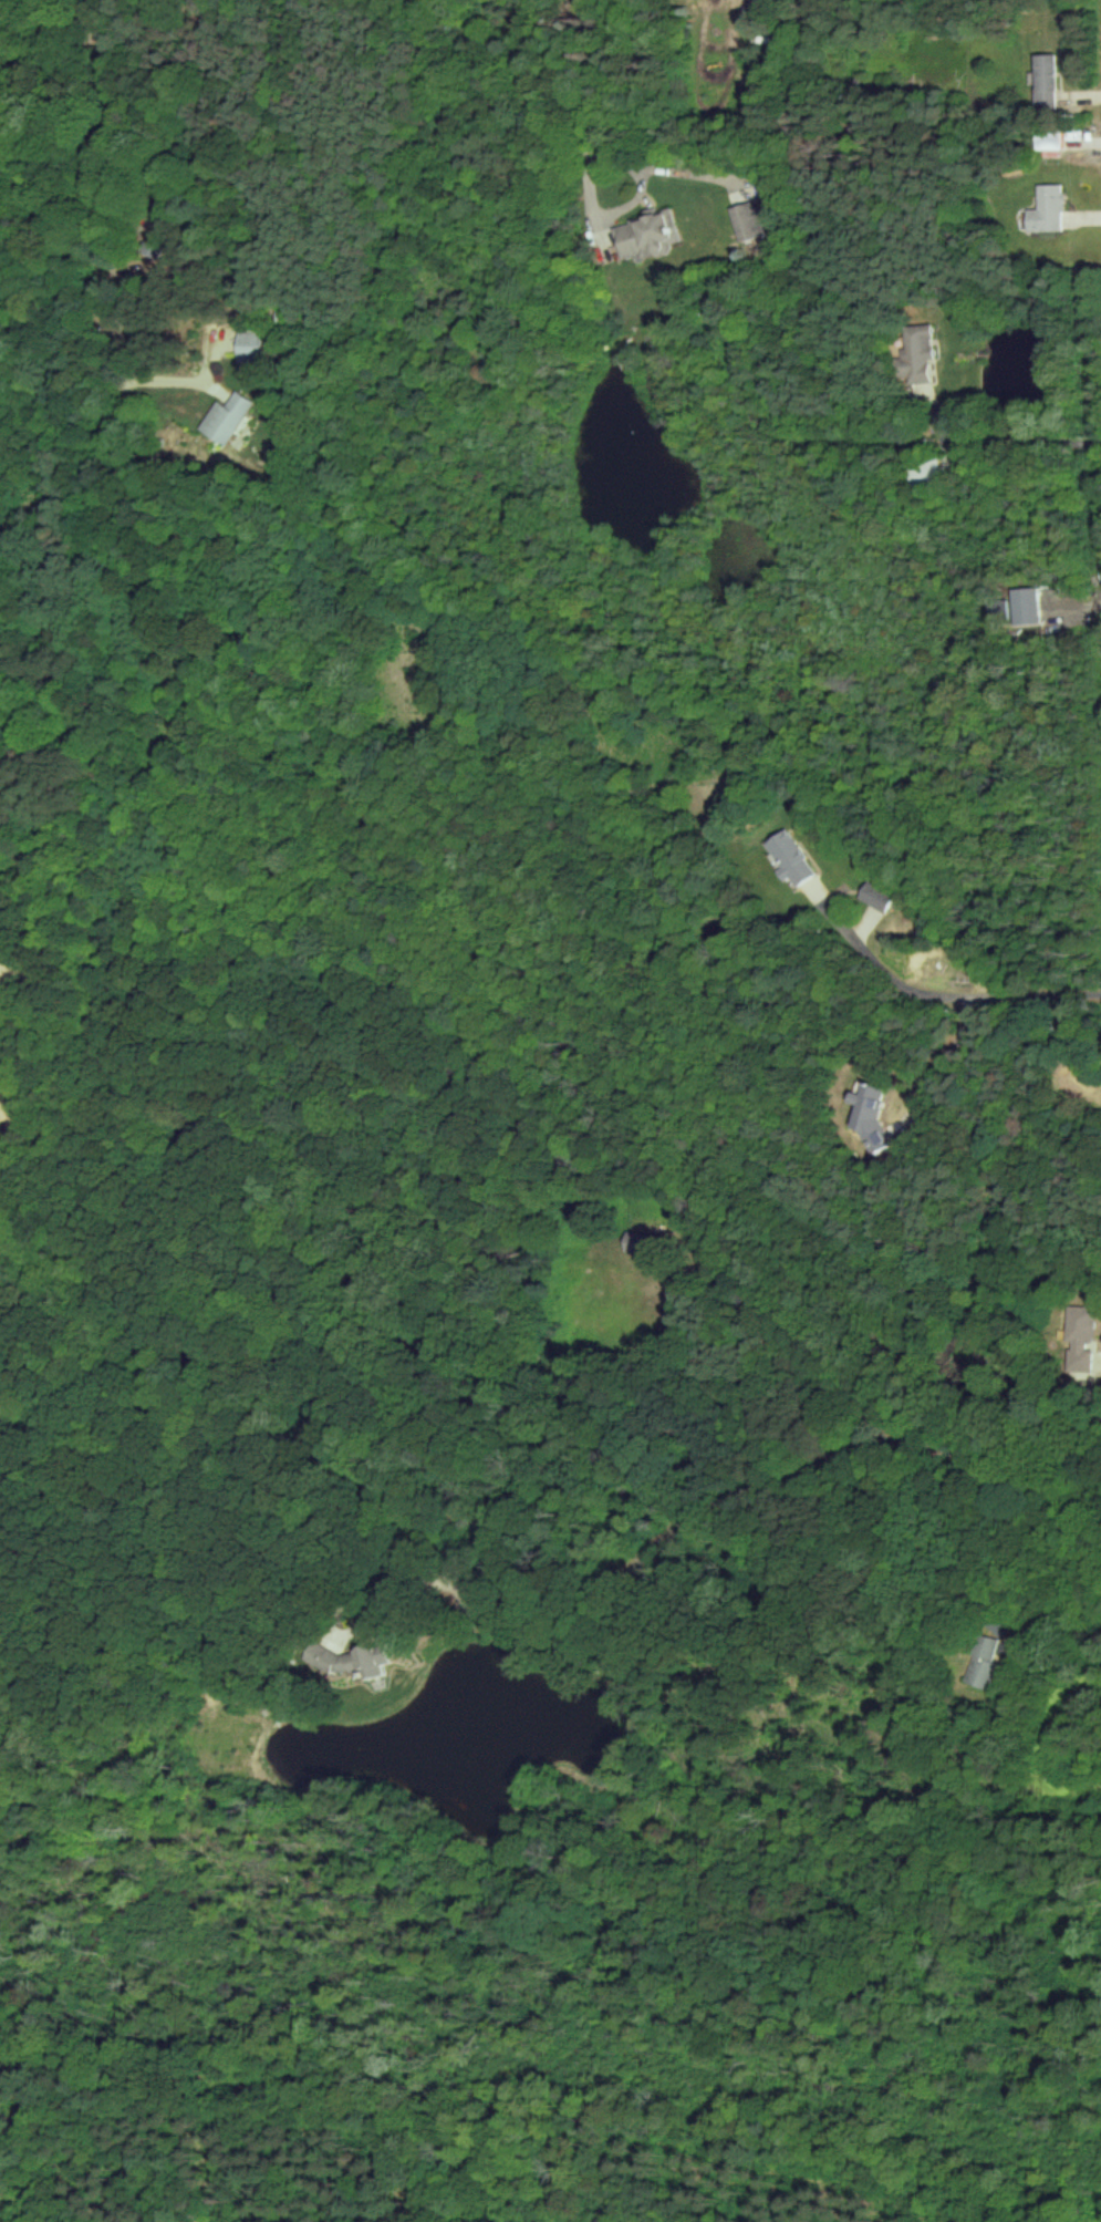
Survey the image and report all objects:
road: (42, 51)
road: (589, 77)
building: (1041, 80)
building: (1047, 142)
road: (661, 164)
road: (104, 177)
road: (613, 199)
building: (1043, 209)
building: (746, 219)
building: (646, 234)
building: (249, 344)
building: (915, 353)
road: (178, 378)
building: (226, 416)
road: (1025, 433)
building: (1024, 606)
building: (791, 858)
building: (876, 896)
road: (944, 996)
road: (951, 1066)
building: (870, 1110)
building: (1080, 1336)
road: (720, 1487)
road: (1063, 1633)
building: (349, 1660)
building: (981, 1662)

